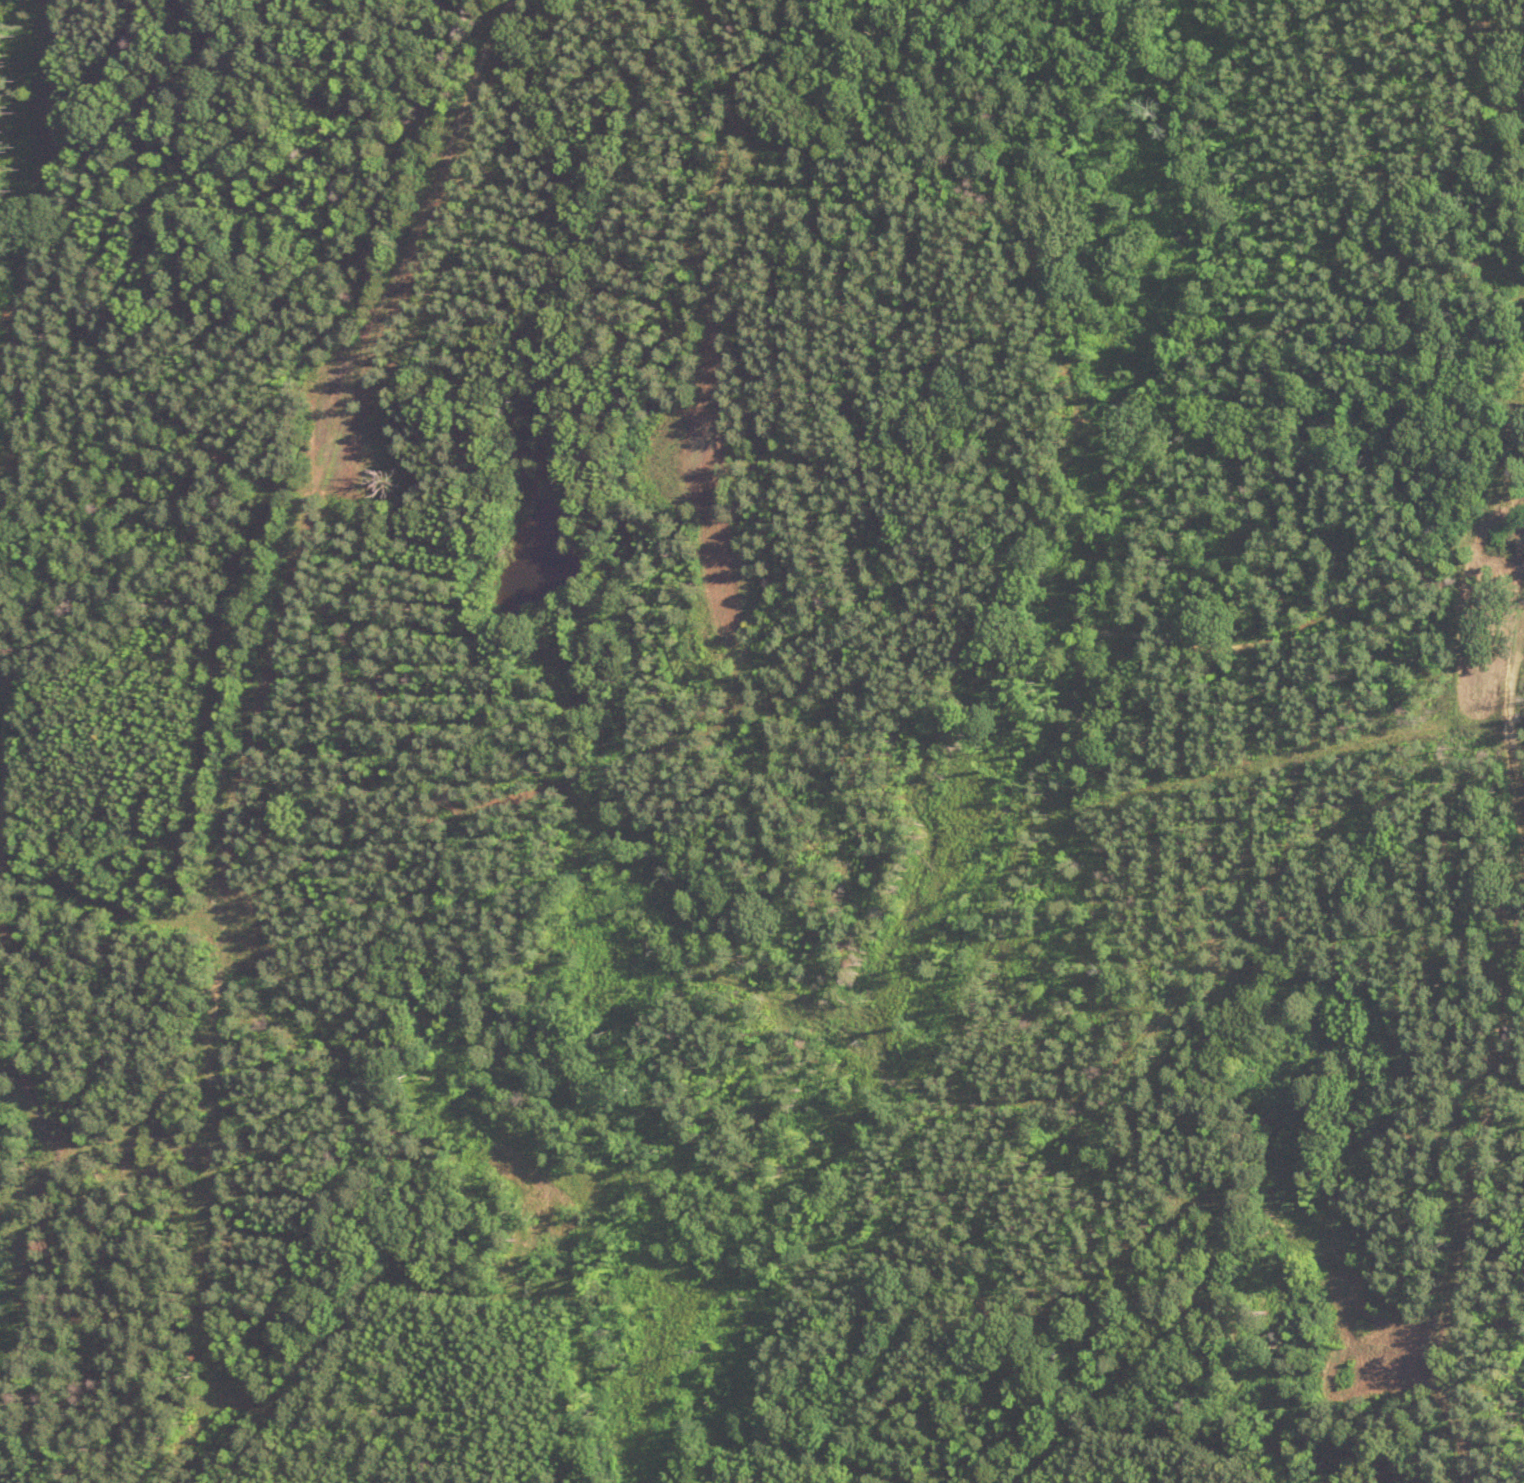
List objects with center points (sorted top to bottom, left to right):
road: (1512, 47)
road: (1497, 555)
road: (1493, 987)

